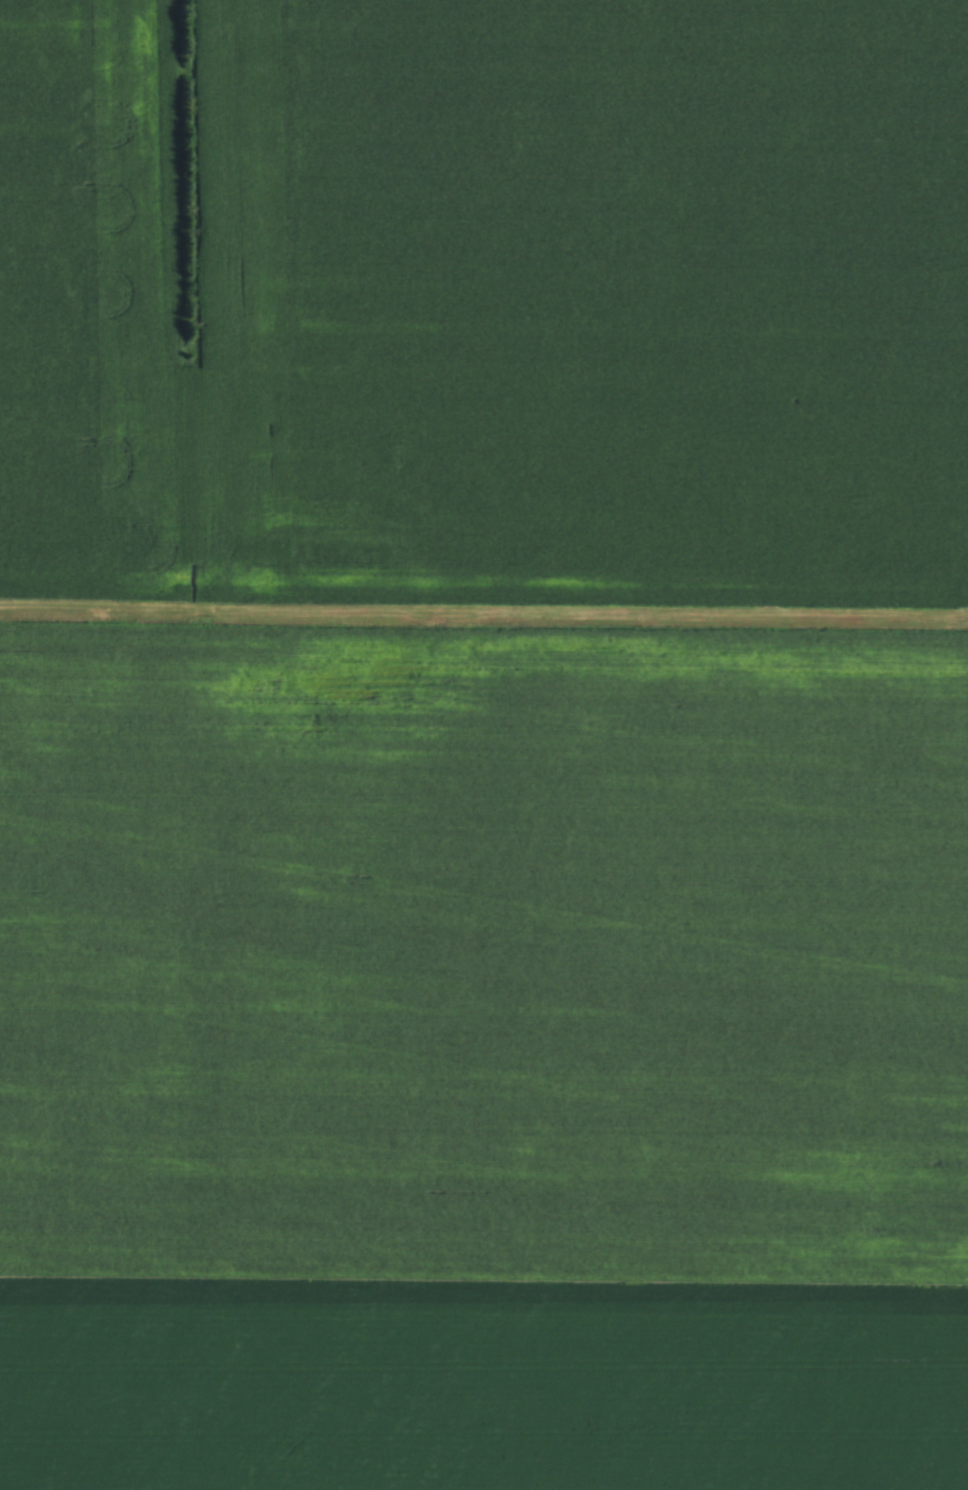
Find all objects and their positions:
road: (483, 609)

